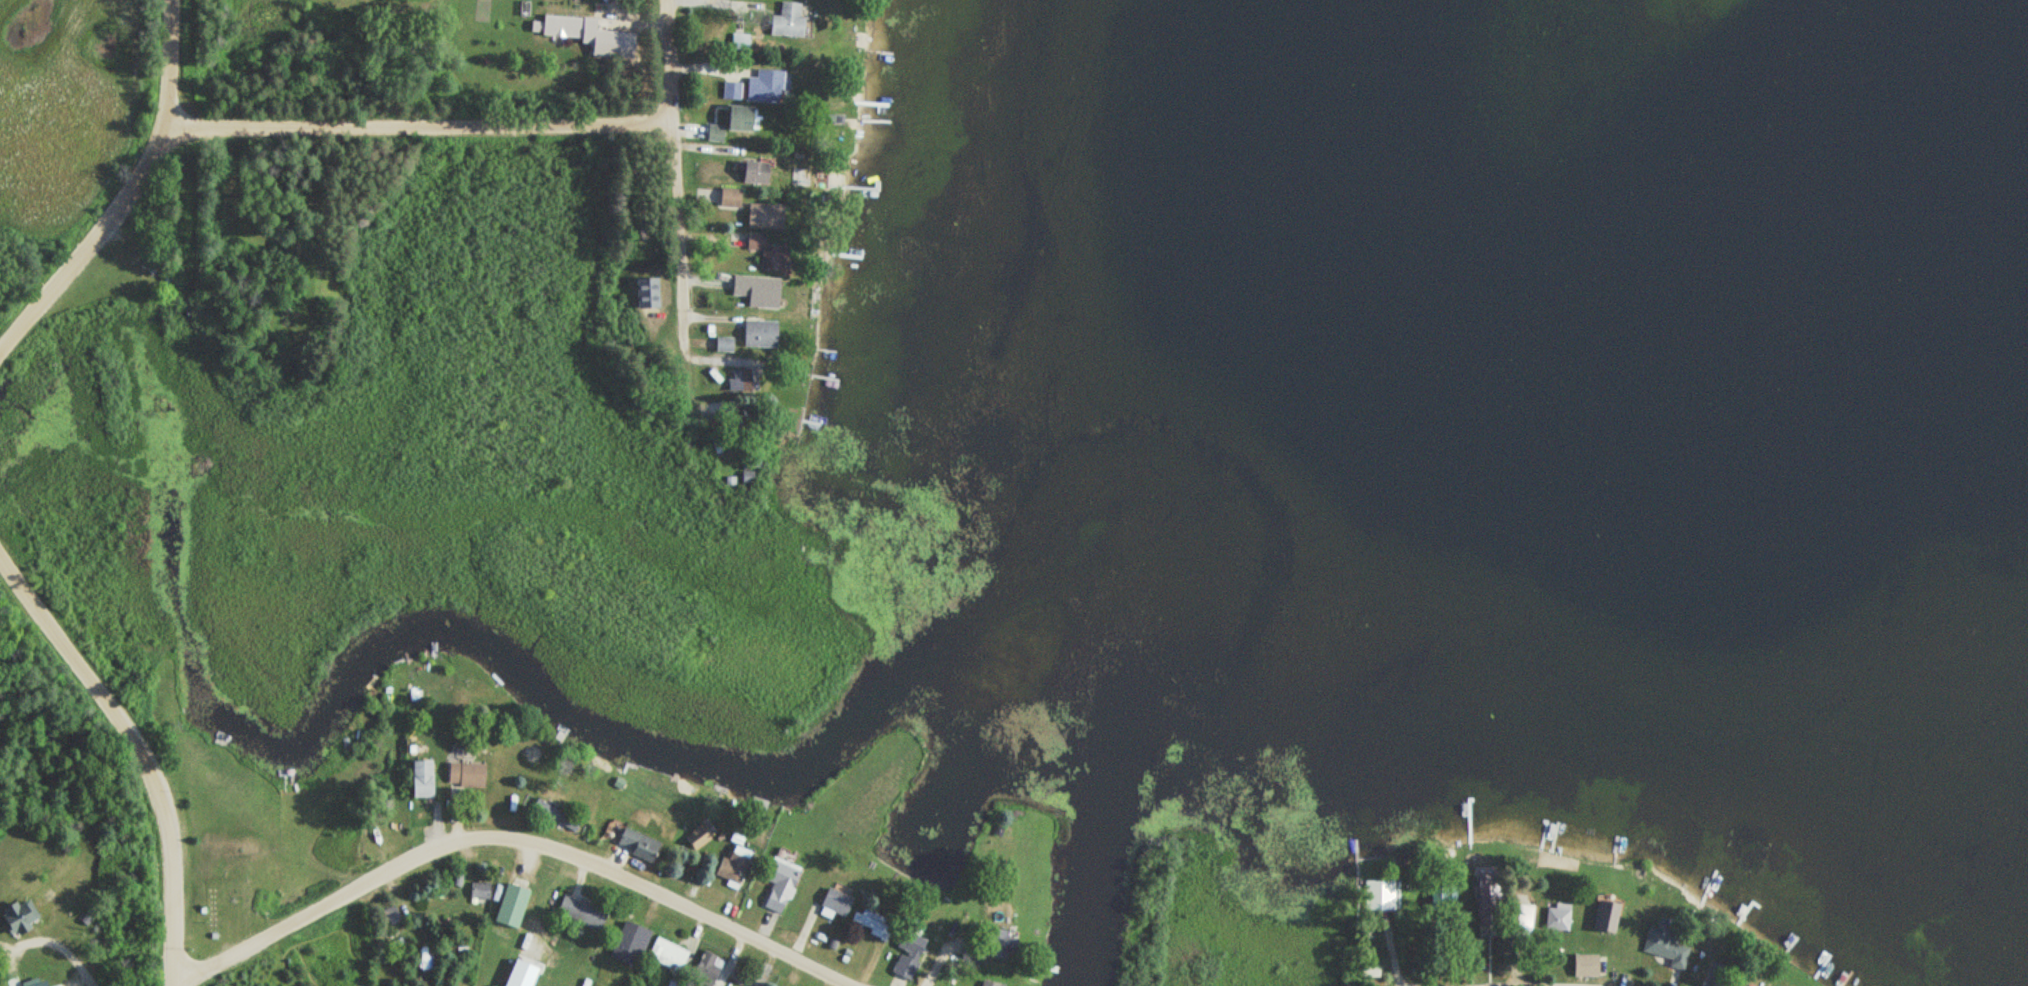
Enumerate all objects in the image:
building: (787, 21)
building: (556, 26)
building: (764, 86)
building: (735, 122)
road: (421, 123)
road: (673, 157)
building: (751, 172)
road: (131, 193)
building: (728, 197)
building: (760, 216)
building: (764, 252)
building: (753, 291)
building: (755, 334)
building: (741, 379)
road: (141, 752)
building: (462, 774)
building: (418, 779)
road: (527, 815)
building: (700, 839)
building: (635, 842)
building: (732, 864)
building: (778, 883)
building: (479, 890)
building: (1444, 890)
building: (1485, 890)
building: (1380, 894)
building: (509, 906)
building: (210, 909)
building: (579, 911)
building: (1605, 913)
building: (15, 915)
building: (389, 916)
building: (1557, 916)
building: (874, 924)
building: (999, 942)
building: (628, 943)
building: (1664, 945)
building: (907, 951)
building: (666, 955)
building: (1583, 964)
building: (705, 968)
building: (1742, 985)

